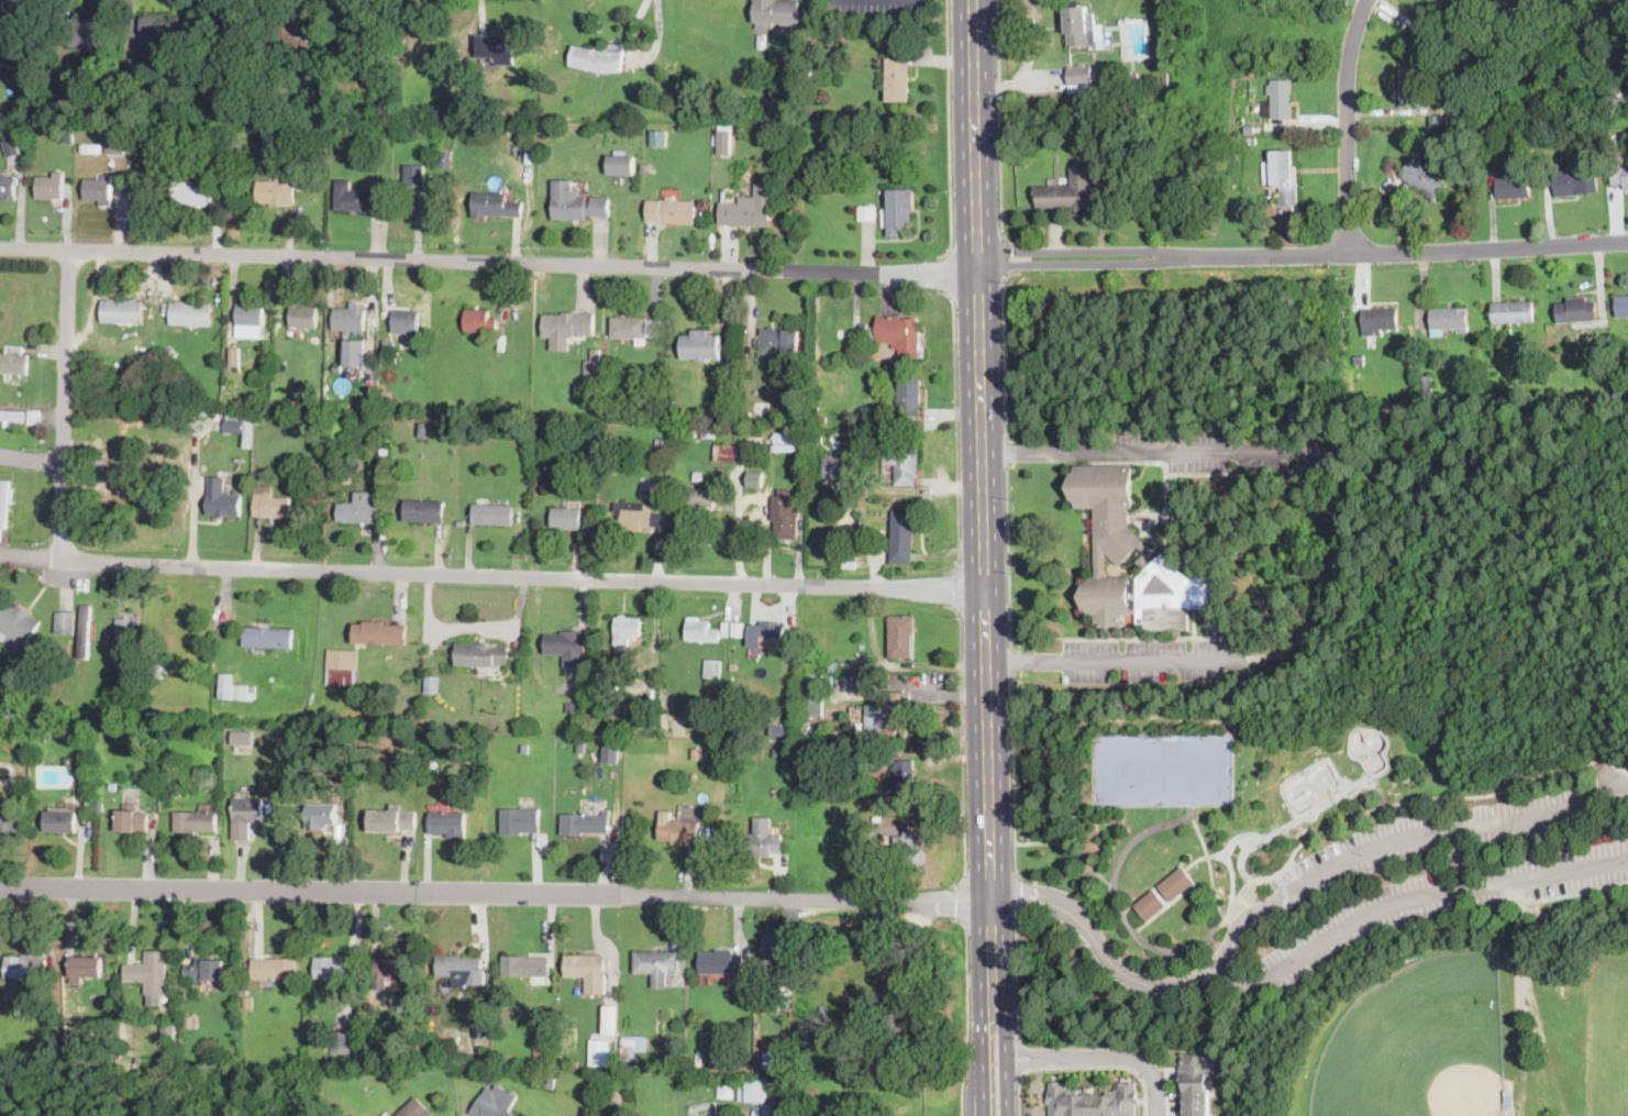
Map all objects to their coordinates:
building: (775, 12)
building: (1438, 12)
building: (230, 19)
building: (1081, 26)
building: (158, 27)
building: (80, 30)
building: (18, 32)
building: (377, 35)
building: (294, 38)
building: (761, 41)
building: (497, 47)
building: (1154, 48)
road: (641, 55)
building: (597, 59)
building: (809, 74)
building: (1079, 75)
building: (1132, 78)
building: (897, 79)
building: (1413, 87)
building: (486, 88)
building: (821, 89)
building: (473, 90)
building: (323, 95)
building: (1281, 98)
building: (1621, 99)
building: (1435, 121)
road: (1348, 125)
road: (1000, 128)
building: (473, 131)
building: (468, 132)
road: (950, 132)
building: (269, 135)
building: (202, 137)
building: (658, 137)
building: (1407, 140)
building: (1250, 141)
building: (726, 142)
building: (115, 144)
building: (11, 146)
building: (95, 148)
building: (446, 159)
building: (621, 164)
building: (646, 167)
building: (413, 175)
building: (1282, 175)
building: (1424, 176)
building: (1620, 176)
building: (431, 177)
building: (863, 177)
building: (1574, 183)
building: (51, 186)
building: (8, 187)
building: (1514, 187)
building: (99, 189)
building: (278, 189)
building: (193, 190)
building: (1070, 191)
building: (355, 198)
building: (576, 202)
building: (495, 206)
building: (898, 210)
building: (672, 211)
building: (743, 212)
building: (866, 212)
road: (1077, 252)
road: (1410, 252)
road: (1005, 256)
road: (483, 261)
road: (1079, 264)
road: (948, 270)
building: (1621, 306)
building: (1575, 310)
building: (122, 311)
building: (1511, 312)
building: (190, 313)
building: (302, 317)
building: (350, 318)
building: (1449, 318)
building: (1378, 319)
building: (250, 320)
building: (479, 320)
building: (406, 323)
building: (567, 327)
building: (629, 329)
building: (651, 329)
building: (840, 333)
building: (900, 335)
building: (779, 340)
building: (700, 344)
building: (387, 345)
road: (1003, 346)
building: (355, 353)
building: (854, 353)
building: (234, 355)
building: (1359, 360)
building: (13, 365)
building: (592, 365)
building: (337, 371)
building: (591, 385)
building: (1425, 386)
building: (1465, 390)
building: (1620, 395)
building: (1367, 396)
building: (909, 397)
road: (64, 404)
building: (1469, 407)
building: (510, 408)
building: (747, 415)
building: (12, 416)
building: (677, 416)
building: (35, 417)
building: (591, 417)
building: (635, 418)
building: (821, 418)
building: (12, 424)
building: (234, 427)
road: (954, 428)
building: (423, 431)
building: (676, 433)
building: (696, 434)
building: (707, 434)
building: (780, 437)
road: (993, 446)
building: (661, 447)
building: (785, 447)
road: (1198, 447)
road: (1005, 449)
road: (1014, 449)
building: (384, 453)
building: (726, 453)
road: (31, 460)
building: (902, 461)
building: (612, 462)
building: (833, 468)
building: (308, 473)
building: (698, 476)
building: (755, 479)
building: (10, 496)
building: (701, 498)
building: (222, 499)
building: (3, 500)
building: (272, 506)
building: (361, 509)
building: (938, 509)
building: (424, 510)
building: (491, 513)
building: (784, 513)
building: (636, 515)
building: (566, 518)
building: (658, 520)
building: (461, 523)
building: (1, 532)
building: (902, 535)
building: (1121, 544)
road: (1007, 554)
building: (845, 556)
road: (972, 557)
road: (981, 565)
road: (497, 575)
road: (1327, 576)
road: (954, 586)
building: (1109, 598)
building: (1280, 601)
road: (981, 605)
building: (64, 622)
building: (1294, 623)
building: (16, 625)
road: (470, 626)
building: (627, 629)
building: (724, 629)
building: (738, 629)
building: (1299, 629)
building: (701, 631)
building: (85, 632)
building: (379, 633)
building: (765, 633)
building: (900, 636)
building: (124, 638)
building: (268, 638)
building: (567, 647)
building: (861, 647)
building: (602, 649)
building: (64, 651)
building: (481, 654)
road: (1010, 659)
road: (1152, 660)
road: (1029, 661)
building: (158, 665)
building: (342, 665)
building: (733, 666)
building: (834, 666)
building: (712, 669)
building: (608, 673)
building: (114, 675)
building: (830, 678)
building: (224, 684)
building: (431, 685)
building: (243, 690)
building: (813, 696)
building: (573, 707)
building: (890, 712)
building: (470, 719)
building: (804, 732)
building: (243, 736)
building: (811, 736)
building: (885, 737)
road: (960, 742)
building: (283, 745)
building: (580, 748)
building: (524, 749)
building: (775, 752)
building: (610, 753)
building: (697, 753)
building: (435, 763)
building: (300, 764)
park: (1162, 766)
building: (904, 767)
road: (1011, 770)
park: (1337, 774)
road: (1618, 784)
building: (113, 786)
building: (167, 791)
building: (176, 791)
building: (88, 800)
road: (1406, 800)
building: (99, 805)
building: (320, 815)
building: (245, 816)
building: (9, 818)
building: (876, 818)
building: (132, 819)
building: (196, 820)
building: (392, 820)
building: (519, 820)
building: (60, 821)
building: (584, 822)
building: (448, 824)
road: (1278, 828)
building: (678, 831)
road: (1418, 831)
park: (1366, 835)
parking lot: (1427, 839)
building: (760, 840)
road: (1071, 848)
building: (908, 849)
road: (1463, 854)
road: (1203, 855)
road: (1209, 865)
building: (1176, 884)
road: (1017, 895)
road: (500, 896)
road: (1409, 896)
road: (1554, 896)
road: (960, 900)
parking lot: (1439, 903)
building: (1151, 905)
road: (1150, 943)
building: (775, 948)
road: (1193, 957)
building: (720, 963)
building: (655, 964)
building: (87, 966)
building: (525, 966)
building: (273, 969)
building: (395, 969)
building: (459, 969)
building: (25, 970)
building: (206, 970)
building: (151, 971)
building: (335, 971)
building: (588, 971)
road: (1122, 971)
road: (1016, 973)
road: (1212, 973)
road: (1528, 975)
road: (1004, 976)
building: (760, 992)
building: (401, 998)
road: (1243, 1003)
building: (247, 1006)
building: (79, 1008)
building: (894, 1010)
building: (823, 1012)
building: (44, 1013)
building: (20, 1014)
road: (968, 1014)
building: (359, 1019)
building: (191, 1021)
building: (479, 1027)
building: (341, 1042)
park: (1418, 1042)
park: (1609, 1043)
building: (632, 1047)
building: (597, 1053)
road: (1018, 1056)
road: (1104, 1057)
building: (485, 1058)
building: (720, 1058)
building: (772, 1059)
building: (573, 1062)
building: (743, 1064)
road: (1081, 1064)
building: (566, 1069)
building: (1198, 1080)
building: (551, 1083)
building: (791, 1083)
road: (1006, 1086)
building: (743, 1090)
building: (813, 1091)
building: (616, 1095)
building: (1508, 1096)
building: (1093, 1101)
building: (495, 1102)
building: (413, 1108)

